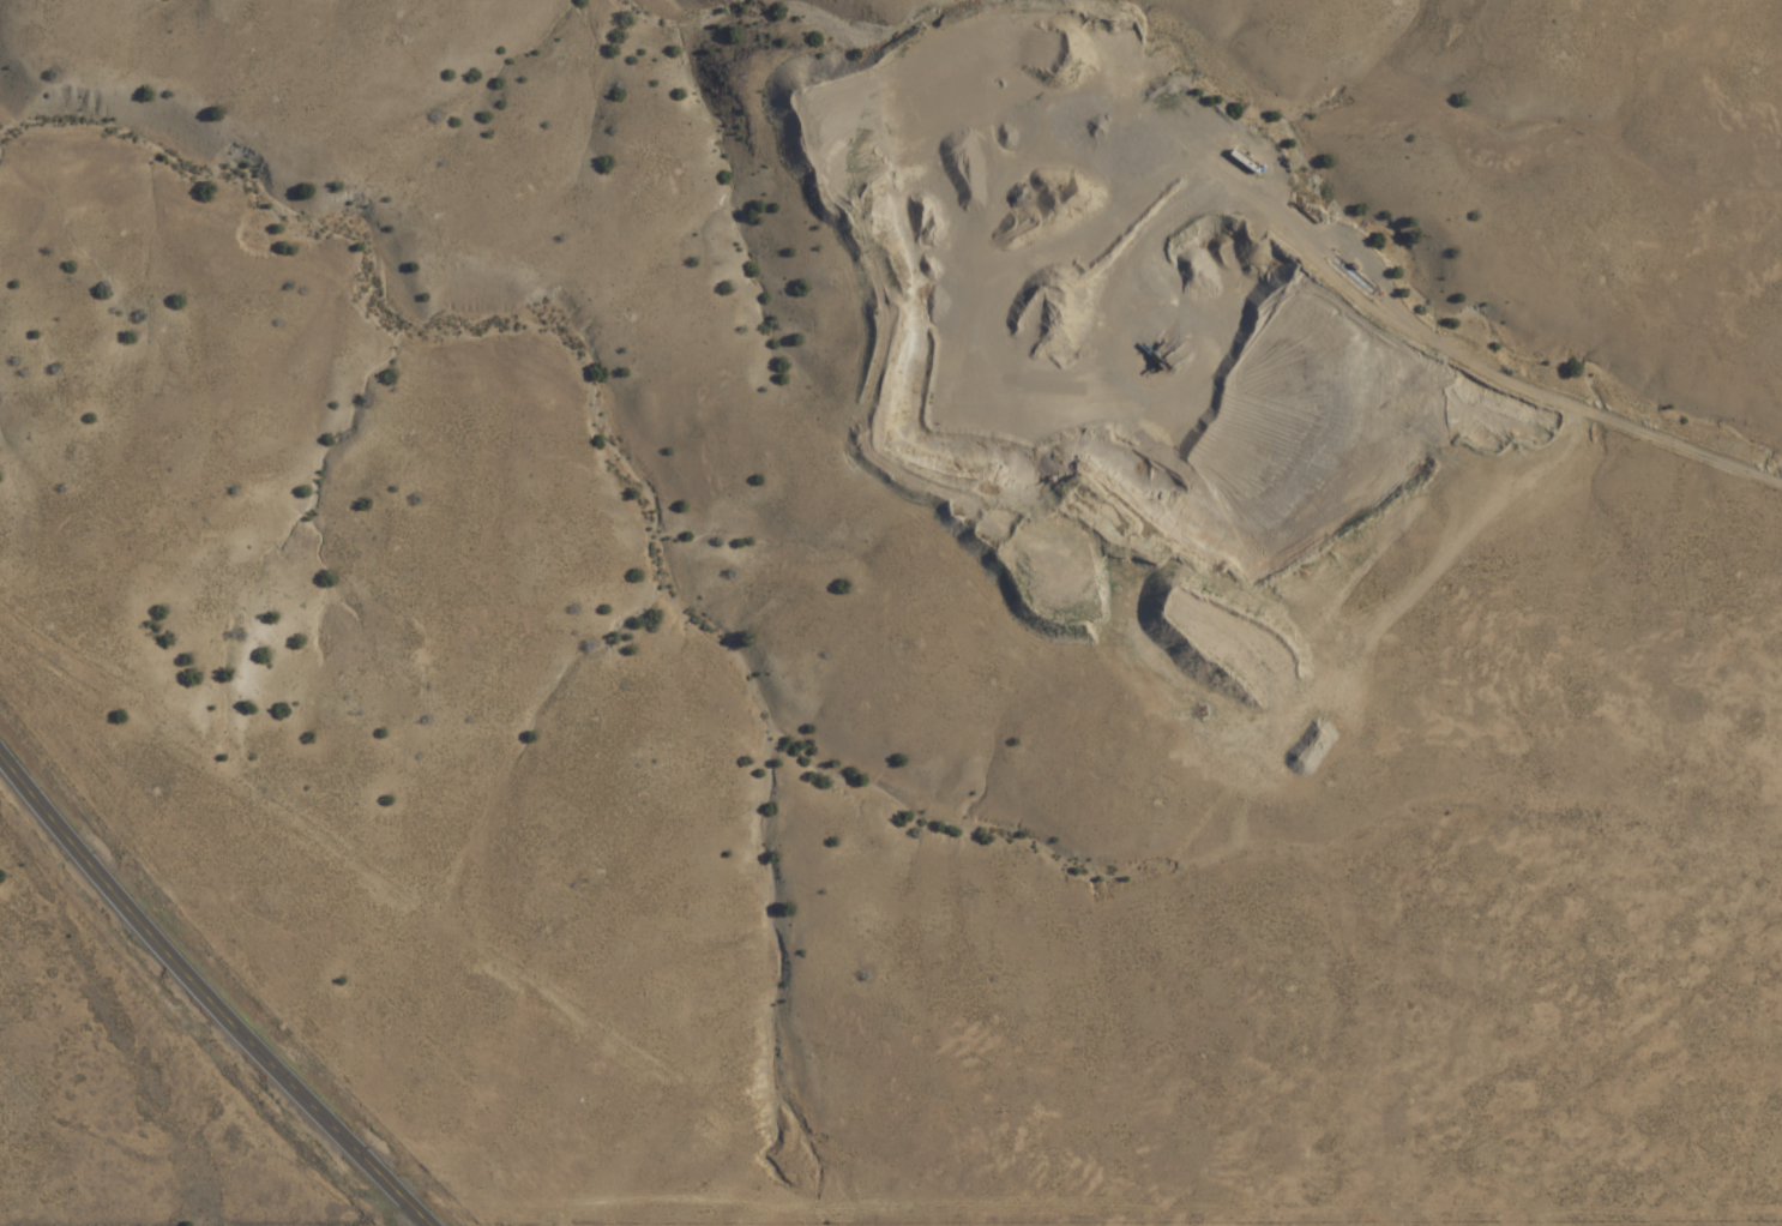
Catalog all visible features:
road: (207, 998)

